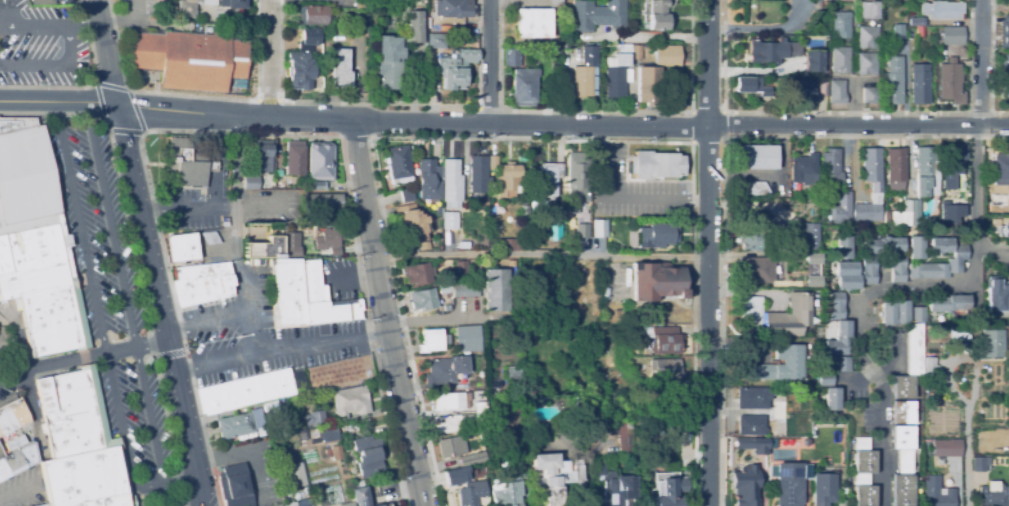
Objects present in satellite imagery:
building: (1008, 1)
building: (42, 2)
building: (360, 4)
building: (821, 5)
building: (208, 8)
building: (452, 8)
building: (945, 9)
building: (868, 11)
building: (315, 15)
building: (597, 15)
building: (658, 15)
building: (535, 21)
building: (917, 21)
building: (840, 25)
building: (415, 27)
road: (67, 28)
road: (762, 28)
road: (4, 29)
building: (898, 31)
building: (919, 32)
building: (1005, 33)
building: (949, 36)
building: (867, 37)
building: (436, 41)
building: (646, 48)
building: (818, 48)
building: (765, 51)
building: (636, 53)
building: (592, 54)
building: (665, 55)
building: (511, 57)
road: (269, 59)
building: (811, 60)
building: (840, 60)
building: (190, 61)
building: (305, 61)
road: (489, 61)
building: (389, 63)
road: (979, 63)
building: (866, 64)
road: (53, 66)
building: (456, 68)
building: (339, 69)
building: (616, 73)
building: (1006, 76)
building: (893, 81)
building: (582, 82)
building: (951, 82)
building: (920, 84)
building: (648, 85)
building: (752, 85)
building: (523, 88)
building: (822, 89)
building: (836, 91)
building: (802, 92)
building: (870, 95)
road: (597, 111)
road: (845, 111)
road: (504, 124)
building: (262, 156)
building: (757, 157)
building: (294, 158)
road: (218, 161)
building: (320, 161)
building: (955, 161)
building: (188, 163)
building: (493, 163)
building: (398, 164)
building: (656, 165)
building: (896, 168)
building: (830, 169)
building: (1001, 169)
building: (803, 172)
building: (926, 172)
building: (478, 174)
building: (26, 178)
building: (427, 178)
building: (578, 181)
building: (250, 182)
building: (451, 182)
building: (508, 182)
building: (547, 183)
building: (316, 186)
building: (762, 188)
building: (952, 189)
building: (876, 193)
building: (406, 194)
road: (977, 202)
building: (323, 205)
road: (220, 208)
road: (255, 208)
building: (840, 209)
building: (525, 210)
building: (950, 212)
building: (908, 214)
building: (888, 217)
building: (579, 219)
building: (450, 220)
building: (412, 223)
building: (224, 224)
road: (78, 225)
building: (537, 227)
building: (599, 228)
building: (1005, 230)
building: (555, 232)
building: (658, 235)
building: (809, 236)
building: (210, 238)
building: (327, 239)
building: (754, 242)
building: (290, 243)
building: (832, 243)
building: (424, 245)
building: (463, 245)
building: (508, 245)
building: (882, 246)
building: (182, 247)
building: (843, 247)
building: (917, 247)
building: (33, 248)
building: (264, 248)
road: (150, 252)
road: (708, 253)
road: (540, 257)
building: (958, 259)
building: (771, 266)
building: (898, 269)
building: (869, 270)
building: (457, 271)
building: (846, 275)
building: (417, 276)
road: (355, 277)
building: (658, 282)
building: (201, 283)
building: (445, 287)
road: (921, 287)
building: (465, 290)
building: (496, 290)
road: (125, 293)
building: (288, 293)
building: (996, 295)
building: (423, 299)
building: (948, 303)
building: (836, 306)
building: (48, 307)
building: (751, 310)
building: (895, 312)
road: (384, 313)
building: (918, 314)
road: (249, 315)
building: (790, 316)
road: (208, 326)
building: (958, 334)
building: (467, 338)
building: (662, 339)
building: (838, 339)
building: (433, 340)
parking lot: (238, 341)
road: (136, 342)
building: (992, 343)
road: (281, 349)
building: (148, 361)
road: (51, 363)
building: (842, 364)
building: (910, 364)
building: (778, 365)
building: (666, 368)
building: (929, 368)
building: (444, 371)
building: (514, 372)
building: (341, 373)
building: (673, 384)
building: (828, 391)
building: (245, 393)
building: (753, 398)
building: (536, 399)
building: (443, 401)
building: (350, 402)
building: (480, 411)
building: (780, 412)
road: (883, 412)
building: (903, 412)
building: (68, 414)
building: (12, 417)
building: (315, 418)
building: (447, 424)
building: (751, 425)
building: (235, 427)
road: (123, 431)
building: (625, 431)
building: (302, 434)
building: (312, 434)
building: (328, 434)
building: (15, 441)
building: (314, 441)
building: (847, 444)
building: (760, 446)
building: (449, 447)
building: (946, 448)
road: (245, 451)
building: (325, 452)
building: (336, 452)
building: (844, 454)
building: (368, 456)
building: (473, 457)
building: (17, 462)
building: (925, 462)
building: (980, 464)
building: (686, 466)
building: (903, 467)
building: (458, 473)
building: (557, 473)
building: (863, 473)
building: (297, 474)
building: (85, 479)
building: (847, 479)
building: (789, 482)
road: (179, 483)
building: (234, 486)
building: (612, 486)
building: (745, 486)
building: (823, 489)
building: (672, 490)
road: (16, 491)
building: (471, 492)
building: (936, 492)
building: (505, 493)
building: (991, 496)
building: (360, 497)
road: (190, 503)
building: (347, 504)
building: (47, 505)
building: (379, 505)

